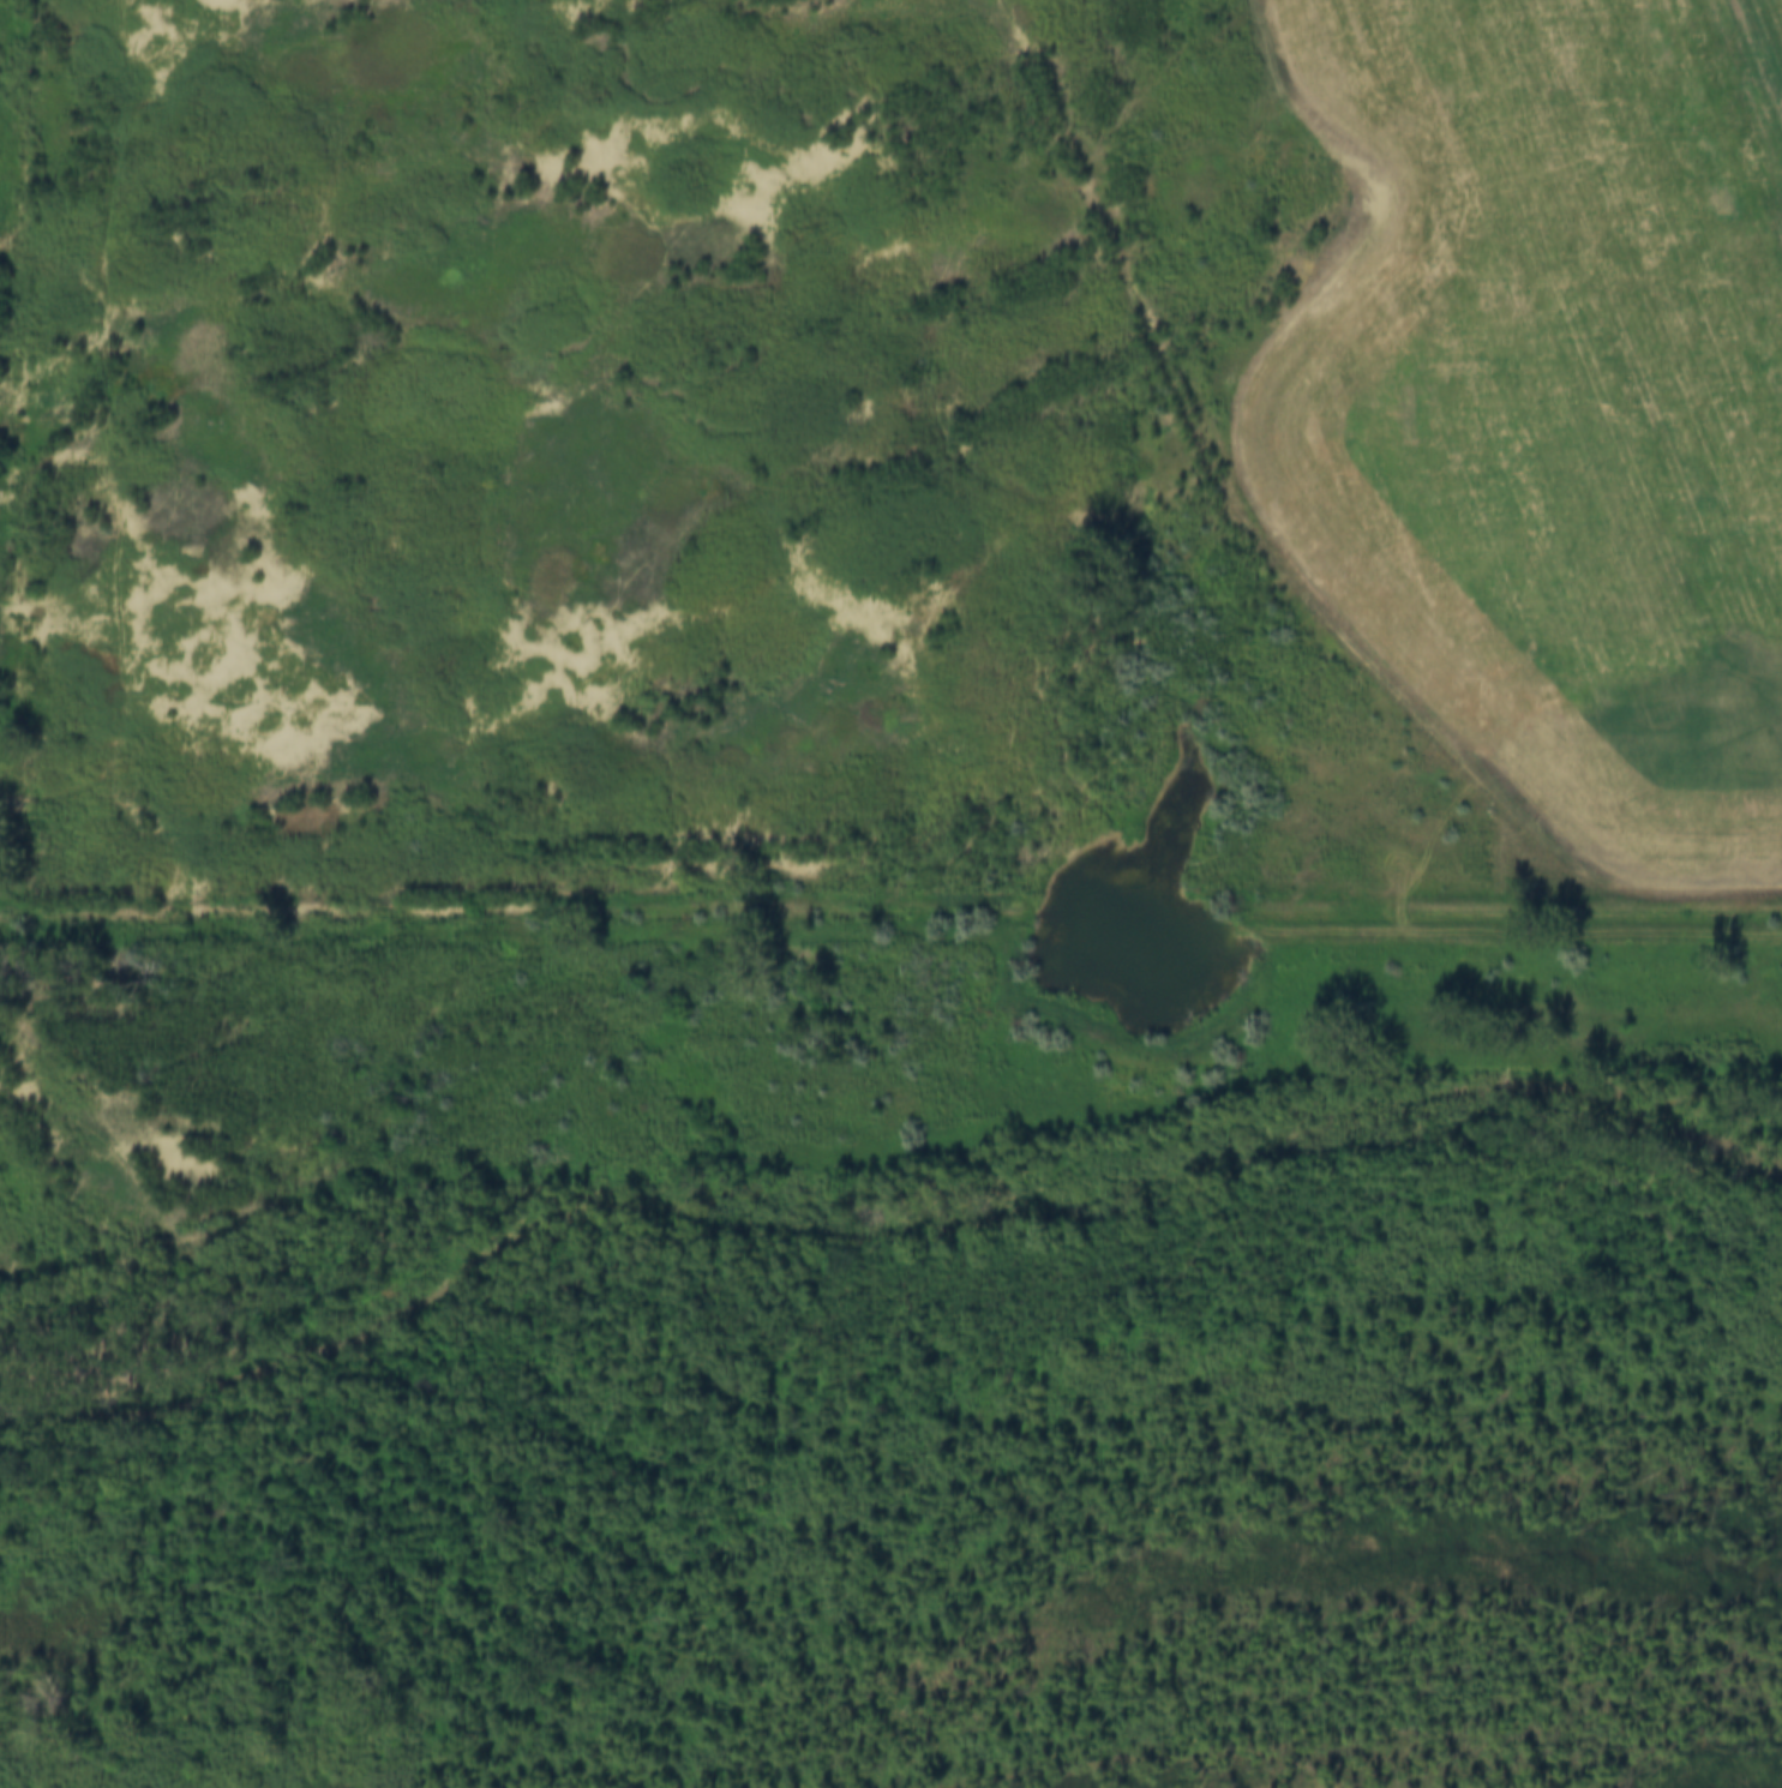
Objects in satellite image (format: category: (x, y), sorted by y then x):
road: (1271, 556)
road: (623, 912)

